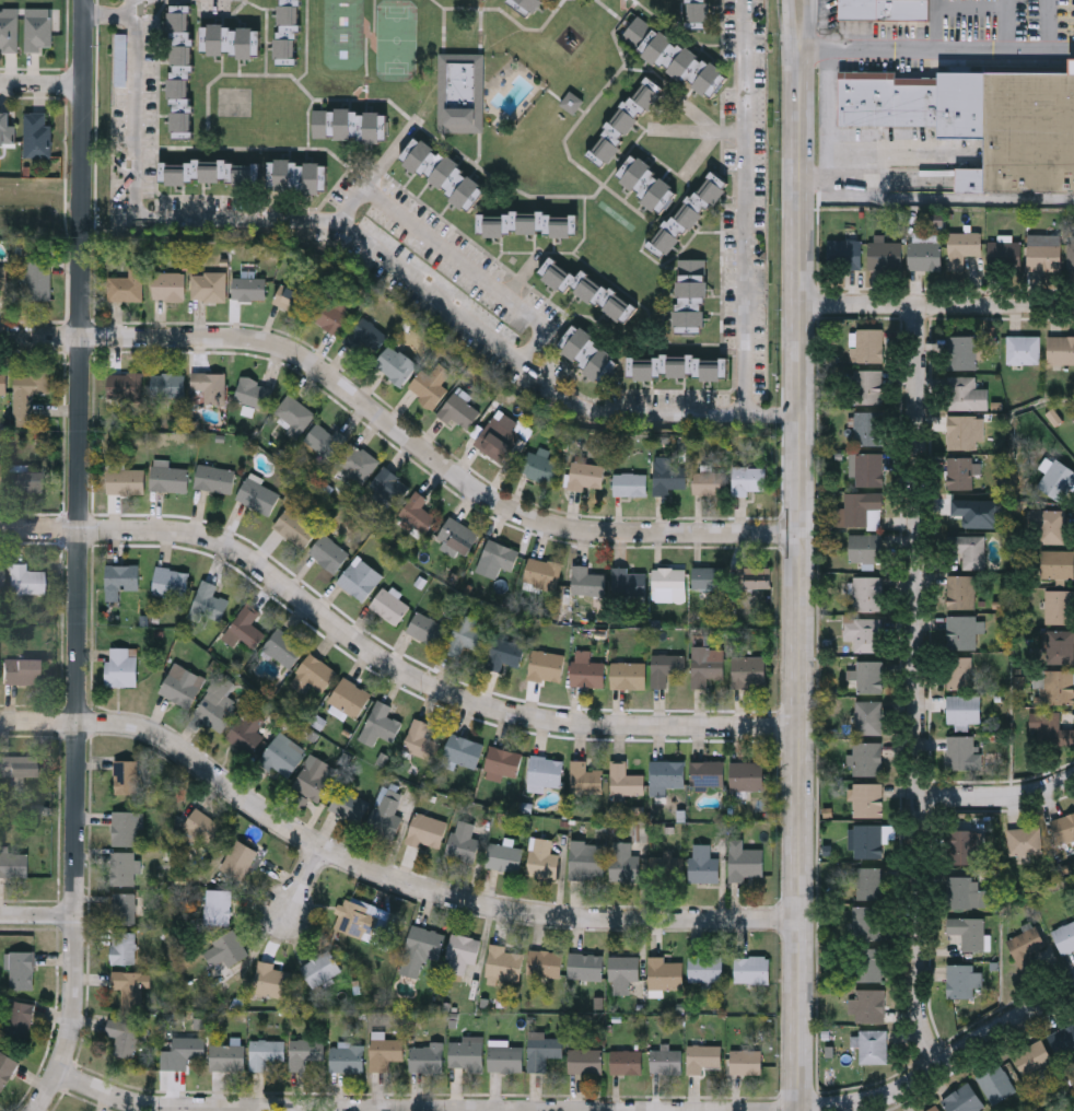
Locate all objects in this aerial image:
building: (530, 4)
road: (970, 8)
building: (884, 9)
building: (698, 12)
road: (112, 17)
parking lot: (970, 20)
parking lot: (1042, 21)
building: (38, 26)
building: (9, 27)
road: (807, 27)
road: (937, 27)
road: (1003, 27)
road: (1050, 27)
road: (786, 28)
building: (288, 31)
building: (231, 39)
road: (936, 54)
building: (674, 55)
building: (180, 71)
road: (43, 84)
building: (460, 91)
building: (572, 100)
building: (914, 100)
road: (694, 113)
building: (624, 119)
building: (347, 122)
building: (7, 130)
road: (697, 130)
building: (1026, 133)
building: (37, 136)
road: (701, 152)
building: (209, 171)
building: (443, 171)
building: (297, 174)
building: (646, 182)
road: (743, 208)
building: (688, 212)
building: (527, 222)
road: (353, 233)
building: (964, 249)
building: (843, 252)
building: (1070, 252)
building: (884, 253)
building: (924, 253)
building: (1003, 253)
building: (1043, 253)
road: (458, 256)
road: (523, 274)
building: (3, 280)
building: (37, 281)
building: (127, 285)
building: (170, 285)
building: (209, 285)
building: (249, 288)
building: (587, 288)
building: (691, 294)
building: (292, 299)
road: (938, 303)
building: (329, 315)
building: (365, 335)
building: (867, 342)
building: (1022, 348)
building: (1060, 348)
building: (961, 350)
building: (589, 352)
building: (395, 364)
building: (680, 365)
building: (168, 384)
building: (430, 384)
building: (3, 385)
building: (125, 385)
building: (210, 385)
building: (867, 385)
building: (966, 391)
building: (27, 393)
building: (254, 393)
building: (460, 409)
building: (293, 413)
road: (773, 417)
building: (866, 426)
road: (400, 430)
building: (964, 430)
building: (500, 435)
building: (325, 440)
building: (357, 461)
building: (539, 465)
building: (864, 467)
building: (957, 471)
building: (586, 476)
building: (1054, 476)
building: (168, 477)
building: (0, 478)
building: (214, 478)
building: (668, 478)
building: (126, 480)
building: (746, 480)
building: (25, 482)
building: (710, 482)
building: (389, 484)
building: (630, 484)
building: (259, 495)
building: (862, 508)
building: (417, 511)
building: (960, 511)
building: (1048, 523)
building: (295, 527)
building: (458, 534)
building: (864, 546)
building: (967, 547)
building: (328, 552)
building: (500, 554)
road: (80, 559)
building: (1055, 562)
building: (542, 572)
building: (121, 576)
building: (710, 576)
building: (1, 577)
building: (360, 577)
building: (756, 577)
building: (670, 580)
building: (587, 581)
building: (629, 581)
building: (25, 582)
road: (801, 582)
building: (171, 583)
building: (959, 589)
building: (865, 590)
building: (209, 601)
building: (389, 605)
building: (1058, 605)
building: (245, 628)
building: (427, 629)
building: (960, 630)
building: (862, 631)
building: (465, 635)
building: (1060, 645)
building: (283, 647)
building: (505, 653)
road: (385, 659)
building: (121, 665)
building: (546, 665)
building: (666, 666)
building: (707, 666)
building: (749, 670)
building: (958, 670)
building: (21, 673)
building: (312, 673)
building: (587, 673)
building: (628, 674)
building: (866, 674)
road: (920, 682)
building: (182, 683)
building: (1058, 685)
building: (350, 697)
building: (217, 702)
building: (964, 707)
building: (866, 714)
building: (385, 720)
building: (1043, 725)
building: (248, 729)
building: (420, 739)
building: (463, 749)
building: (958, 749)
building: (283, 753)
building: (865, 756)
building: (503, 760)
building: (19, 768)
building: (544, 771)
building: (707, 771)
building: (746, 774)
building: (127, 775)
building: (667, 775)
building: (314, 776)
building: (585, 776)
building: (624, 780)
road: (1000, 795)
building: (866, 796)
building: (348, 803)
building: (386, 814)
building: (202, 825)
building: (1062, 825)
building: (125, 826)
building: (427, 829)
building: (866, 838)
building: (1022, 838)
building: (463, 840)
building: (960, 843)
building: (504, 856)
building: (238, 857)
building: (542, 857)
building: (586, 858)
building: (623, 861)
building: (746, 862)
building: (703, 863)
building: (13, 865)
building: (122, 866)
building: (667, 867)
road: (381, 872)
road: (306, 879)
building: (867, 880)
building: (961, 889)
building: (218, 905)
building: (124, 907)
road: (38, 915)
building: (361, 920)
building: (864, 920)
building: (966, 928)
building: (1064, 934)
building: (1024, 945)
building: (124, 946)
building: (225, 948)
building: (421, 949)
building: (462, 952)
building: (545, 961)
building: (504, 962)
building: (866, 962)
building: (586, 964)
building: (320, 968)
building: (751, 968)
building: (705, 969)
building: (21, 971)
building: (622, 971)
building: (664, 973)
building: (958, 978)
building: (272, 979)
building: (128, 985)
building: (868, 1003)
building: (19, 1021)
building: (122, 1037)
building: (1062, 1038)
building: (869, 1043)
building: (186, 1050)
building: (542, 1051)
building: (265, 1052)
building: (305, 1052)
building: (384, 1052)
building: (467, 1052)
building: (1030, 1055)
building: (226, 1056)
building: (427, 1056)
building: (505, 1056)
building: (702, 1056)
building: (347, 1057)
building: (585, 1060)
building: (666, 1060)
road: (942, 1060)
building: (627, 1061)
building: (747, 1061)
building: (5, 1071)
building: (993, 1081)
building: (962, 1099)
building: (932, 1108)
road: (427, 1109)

